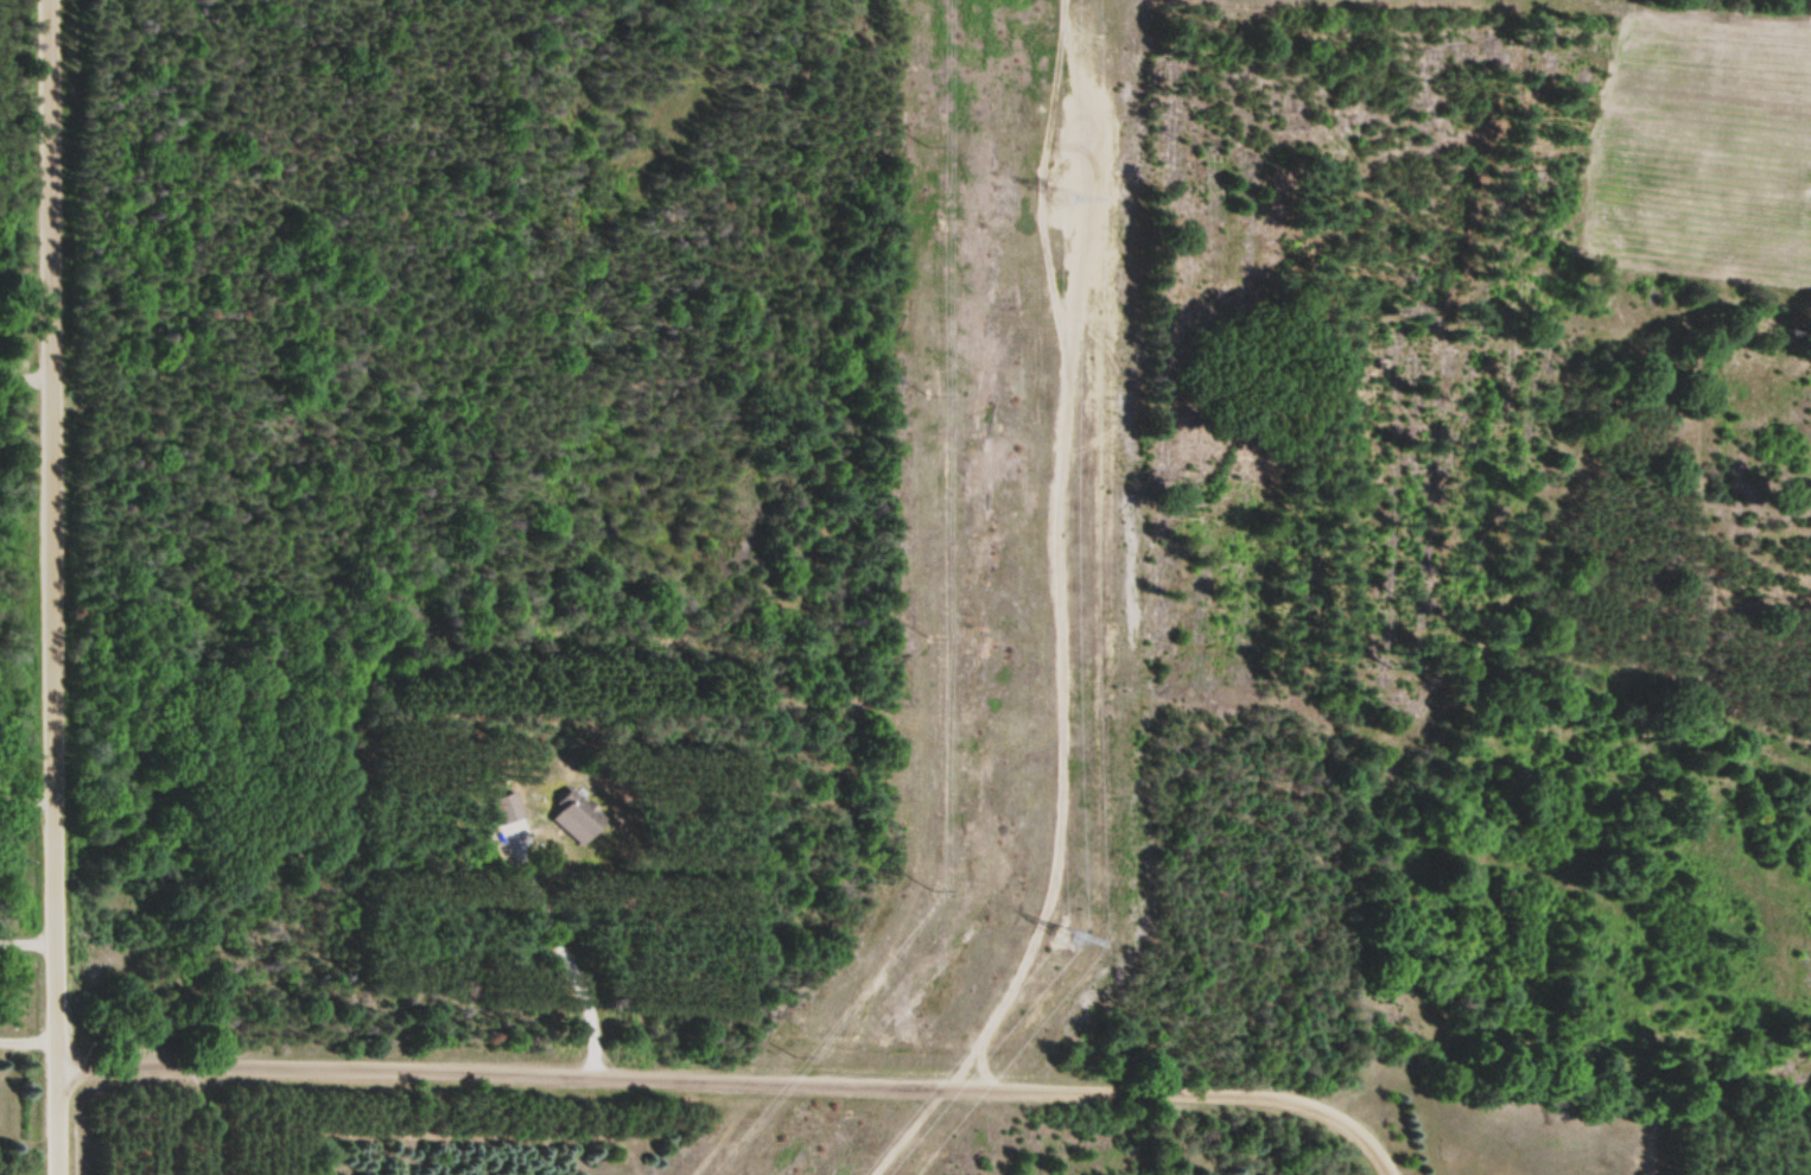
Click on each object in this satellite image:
power tower: (1063, 195)
road: (45, 587)
building: (574, 819)
power tower: (1056, 939)
road: (24, 940)
road: (736, 1082)

